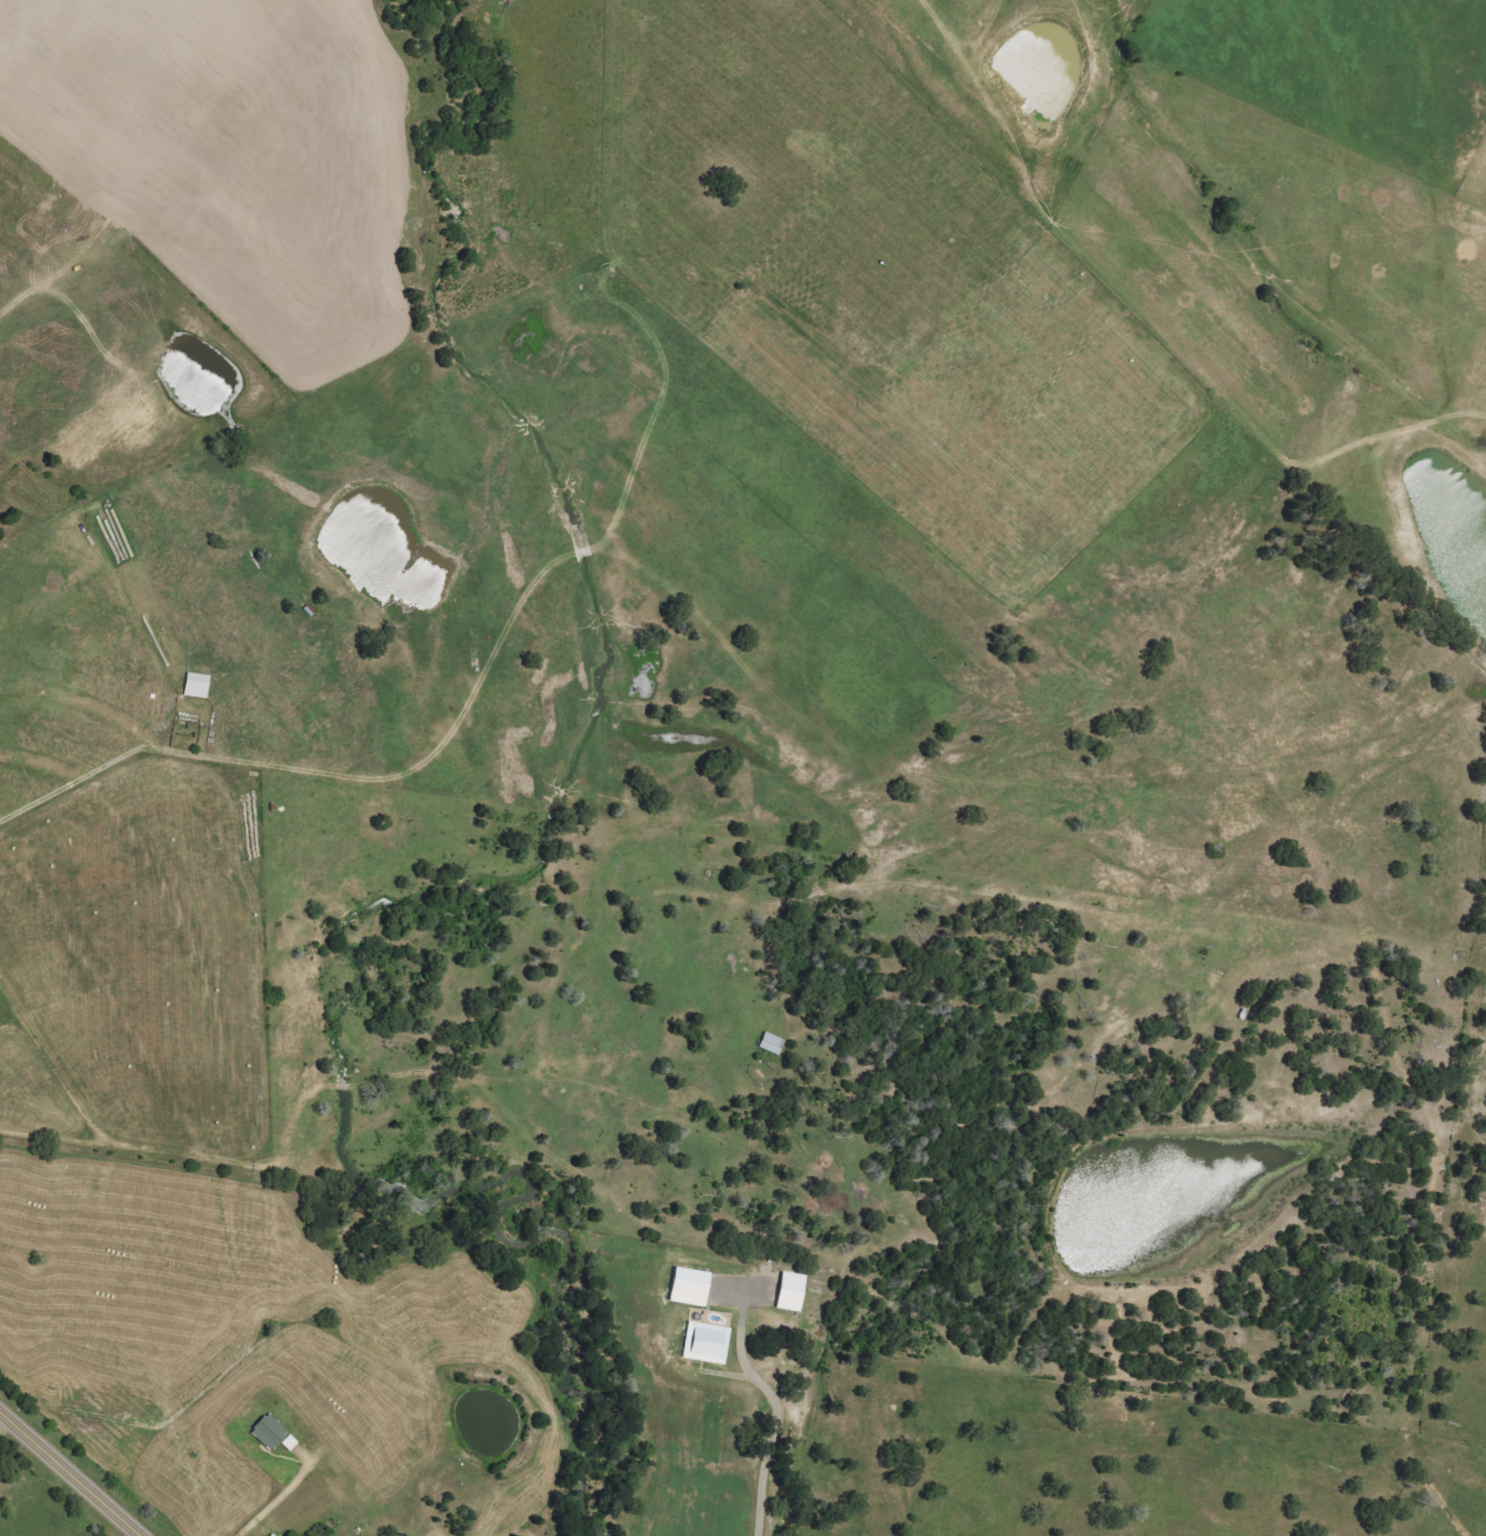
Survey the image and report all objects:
building: (197, 685)
building: (772, 1043)
building: (689, 1287)
building: (791, 1292)
building: (706, 1343)
road: (777, 1411)
building: (273, 1434)
road: (72, 1473)
road: (1456, 1521)
building: (271, 1535)

